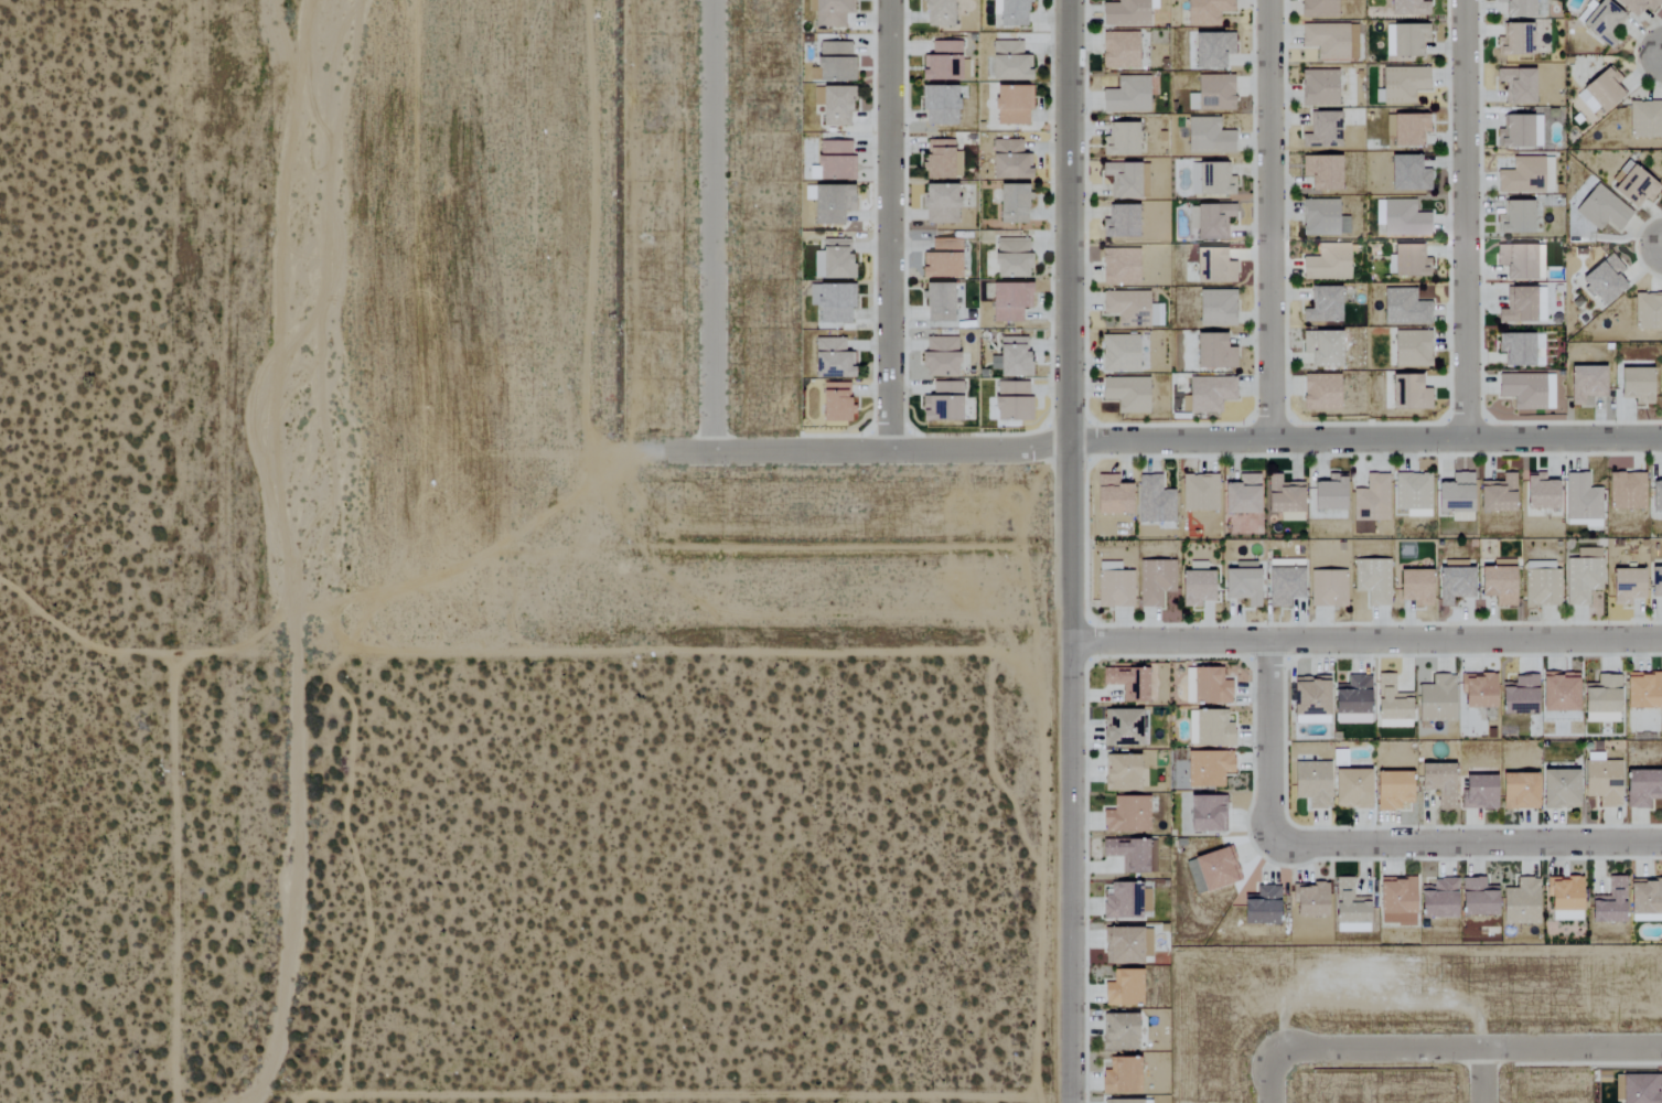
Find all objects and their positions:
building: (1637, 6)
building: (1317, 8)
building: (1407, 8)
building: (1516, 8)
building: (1205, 11)
building: (830, 12)
building: (936, 12)
building: (1126, 12)
building: (1011, 13)
building: (1604, 22)
building: (1325, 40)
building: (1405, 40)
building: (1515, 40)
building: (1352, 42)
building: (1118, 50)
building: (1211, 50)
building: (943, 62)
building: (1008, 62)
building: (834, 63)
building: (1402, 84)
building: (1516, 85)
building: (1318, 88)
building: (1599, 92)
building: (1212, 94)
building: (1126, 95)
building: (939, 105)
building: (1011, 105)
building: (835, 106)
building: (1644, 119)
building: (1406, 129)
building: (1321, 130)
building: (1520, 131)
building: (1208, 137)
building: (1119, 140)
building: (834, 161)
building: (941, 161)
building: (1008, 161)
building: (1320, 172)
building: (1406, 174)
building: (1521, 176)
building: (1122, 180)
building: (1214, 180)
building: (1632, 186)
building: (830, 204)
building: (939, 204)
building: (1010, 204)
building: (1601, 210)
building: (1514, 217)
building: (1322, 218)
building: (1400, 218)
building: (1210, 221)
road: (1269, 221)
road: (1466, 221)
building: (1119, 222)
road: (892, 224)
road: (714, 225)
building: (1009, 258)
building: (833, 259)
building: (941, 260)
building: (1406, 261)
building: (1515, 261)
building: (1327, 263)
building: (1538, 263)
building: (1213, 265)
building: (1118, 267)
building: (1604, 279)
building: (1009, 301)
building: (832, 302)
building: (936, 302)
building: (1322, 306)
building: (1523, 306)
building: (1404, 307)
building: (1215, 308)
building: (1132, 309)
building: (1648, 311)
building: (1321, 347)
building: (1412, 349)
building: (1521, 350)
building: (1212, 352)
building: (1118, 353)
building: (939, 357)
building: (1012, 357)
building: (830, 358)
building: (1587, 384)
building: (1634, 385)
building: (1526, 390)
building: (1320, 392)
building: (1126, 394)
building: (1207, 394)
building: (1411, 394)
building: (833, 403)
building: (1011, 403)
building: (941, 404)
road: (1365, 441)
road: (873, 448)
building: (1626, 491)
building: (1538, 492)
building: (1199, 493)
building: (1328, 494)
building: (1412, 494)
building: (1454, 494)
building: (1240, 495)
building: (1282, 495)
building: (1497, 495)
building: (1109, 496)
building: (1655, 496)
building: (1581, 499)
building: (1371, 500)
building: (1154, 501)
road: (1071, 550)
building: (1587, 554)
building: (1581, 580)
building: (1372, 581)
building: (1155, 582)
building: (1497, 582)
building: (1655, 582)
building: (1241, 583)
building: (1541, 583)
building: (1452, 586)
building: (1283, 587)
building: (1625, 587)
building: (1195, 588)
building: (1411, 588)
building: (1327, 589)
road: (1366, 638)
road: (683, 646)
building: (1126, 683)
building: (1209, 687)
building: (1477, 692)
building: (1557, 692)
building: (1642, 692)
building: (1600, 696)
building: (1518, 697)
building: (1310, 700)
building: (1391, 700)
building: (1435, 700)
building: (1351, 702)
building: (1600, 718)
building: (1120, 728)
building: (1209, 729)
building: (1208, 769)
building: (1120, 773)
building: (1601, 782)
building: (1438, 783)
building: (1310, 784)
building: (1351, 789)
building: (1641, 789)
building: (1558, 790)
building: (1391, 791)
building: (1518, 792)
building: (1477, 793)
road: (172, 814)
building: (1126, 815)
building: (1205, 815)
road: (1365, 847)
building: (1132, 854)
building: (1212, 868)
building: (1644, 896)
building: (1476, 897)
building: (1564, 898)
building: (1308, 899)
building: (1437, 899)
building: (1120, 900)
building: (1521, 900)
building: (1395, 901)
building: (1608, 902)
building: (1261, 906)
building: (1348, 908)
building: (1126, 945)
building: (1122, 987)
building: (1117, 1031)
road: (1471, 1050)
road: (1272, 1074)
building: (1119, 1075)
road: (1483, 1077)
road: (663, 1094)
road: (248, 1096)
building: (1124, 1101)

